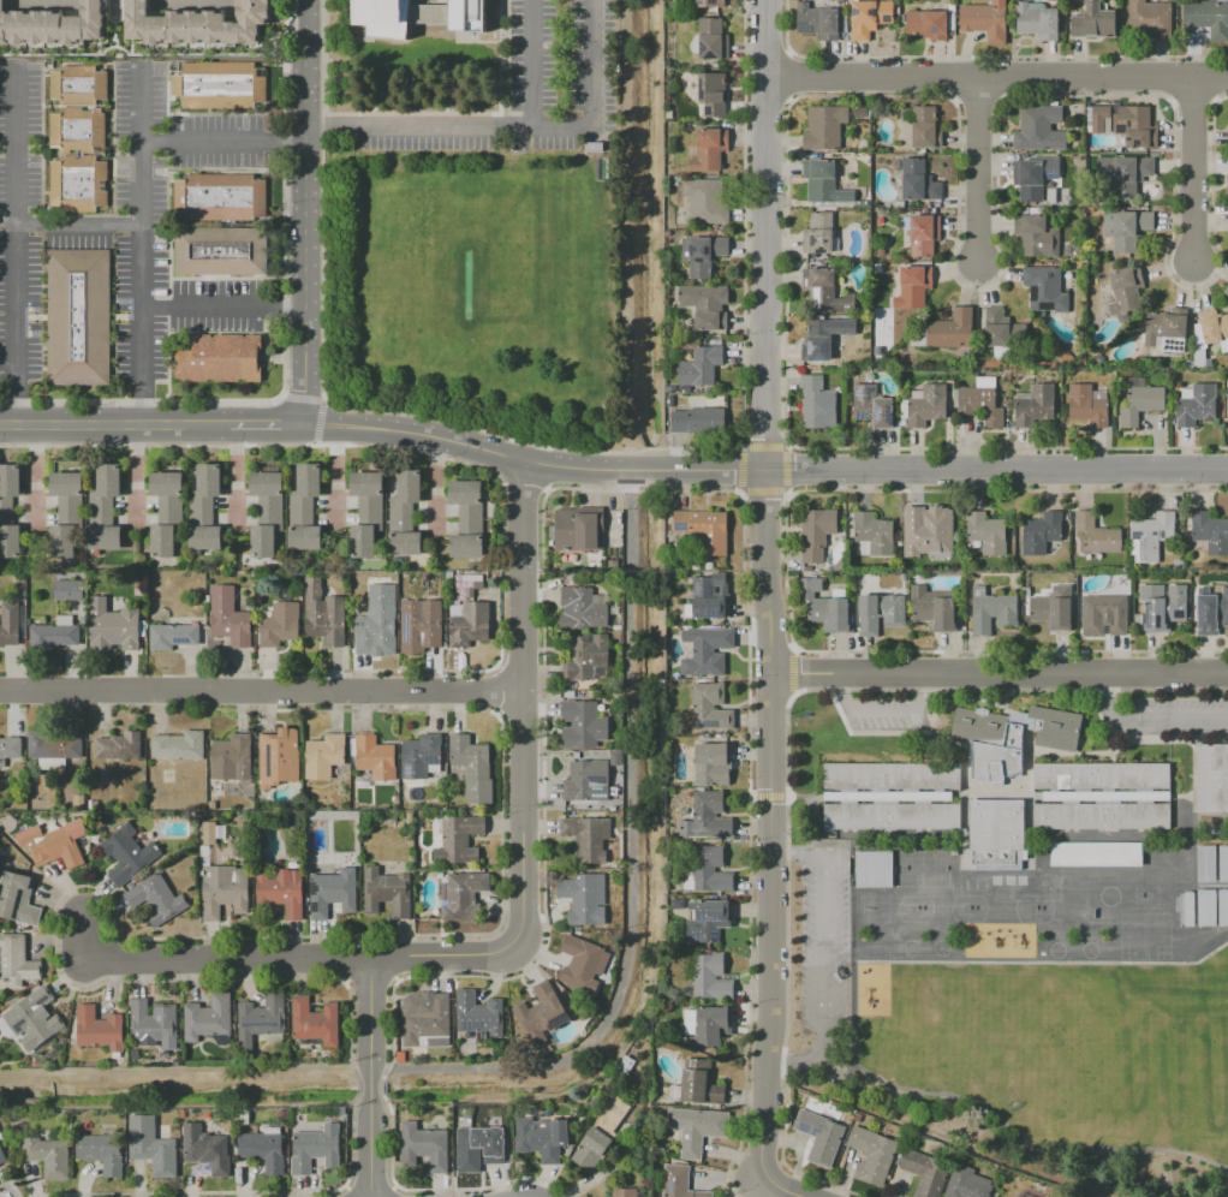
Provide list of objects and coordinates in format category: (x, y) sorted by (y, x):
building: (710, 4)
road: (193, 5)
road: (108, 12)
building: (417, 14)
building: (869, 17)
building: (1208, 17)
building: (1150, 18)
building: (985, 20)
building: (1037, 20)
building: (817, 22)
building: (1093, 22)
road: (114, 23)
building: (926, 24)
building: (199, 25)
building: (53, 26)
building: (709, 40)
road: (150, 54)
road: (532, 64)
road: (996, 81)
building: (219, 84)
building: (78, 85)
road: (406, 85)
road: (376, 90)
building: (711, 94)
parking lot: (520, 97)
road: (447, 103)
building: (860, 112)
building: (1096, 118)
building: (1135, 126)
road: (513, 127)
building: (824, 127)
building: (925, 127)
building: (77, 129)
building: (1039, 129)
building: (1227, 137)
road: (223, 142)
building: (598, 148)
building: (709, 149)
building: (1125, 173)
road: (1197, 173)
building: (1035, 175)
road: (980, 177)
building: (918, 180)
building: (823, 181)
building: (78, 183)
building: (1227, 190)
building: (219, 197)
building: (705, 201)
road: (305, 212)
road: (77, 226)
building: (1126, 228)
building: (922, 233)
building: (818, 234)
road: (764, 236)
building: (1036, 236)
road: (139, 246)
road: (16, 248)
building: (222, 251)
building: (1074, 252)
building: (702, 254)
building: (877, 268)
park: (475, 280)
building: (911, 287)
building: (1044, 288)
building: (824, 290)
building: (1125, 290)
park: (476, 293)
road: (222, 308)
building: (708, 309)
building: (78, 317)
building: (1215, 328)
building: (950, 329)
building: (1166, 329)
building: (1002, 332)
building: (817, 340)
building: (220, 358)
building: (1208, 363)
building: (701, 367)
building: (1135, 382)
building: (669, 388)
building: (684, 389)
road: (280, 395)
road: (302, 398)
road: (139, 400)
building: (668, 400)
building: (979, 400)
building: (817, 403)
building: (1087, 404)
building: (1140, 404)
building: (871, 405)
building: (924, 405)
building: (1035, 405)
building: (1196, 405)
road: (270, 410)
building: (698, 419)
road: (317, 422)
road: (113, 424)
road: (267, 424)
road: (419, 434)
road: (266, 437)
road: (526, 437)
road: (542, 443)
road: (256, 445)
road: (738, 446)
road: (788, 446)
road: (762, 447)
road: (1008, 448)
road: (542, 466)
road: (786, 469)
road: (740, 470)
road: (878, 470)
building: (10, 480)
building: (108, 480)
building: (209, 480)
building: (308, 480)
road: (523, 481)
building: (66, 483)
building: (165, 483)
building: (366, 483)
building: (267, 484)
building: (409, 486)
road: (546, 489)
road: (642, 490)
road: (1005, 490)
building: (465, 492)
road: (763, 493)
road: (738, 494)
building: (100, 510)
building: (199, 510)
building: (299, 510)
building: (6, 511)
building: (71, 511)
building: (169, 511)
building: (270, 511)
building: (371, 511)
building: (400, 516)
building: (471, 519)
building: (578, 529)
building: (704, 529)
building: (926, 530)
building: (817, 532)
building: (874, 532)
building: (986, 532)
building: (1041, 532)
building: (1154, 532)
building: (1209, 532)
building: (1096, 534)
building: (105, 537)
building: (204, 537)
building: (304, 537)
building: (10, 541)
building: (62, 541)
building: (162, 541)
building: (263, 541)
building: (363, 541)
building: (405, 543)
building: (466, 546)
building: (679, 548)
building: (696, 566)
building: (708, 566)
building: (478, 584)
building: (68, 590)
building: (1026, 591)
building: (708, 598)
building: (823, 607)
building: (583, 608)
building: (931, 609)
building: (991, 611)
building: (1105, 612)
building: (880, 613)
building: (1050, 613)
building: (1163, 613)
building: (1211, 613)
building: (323, 614)
building: (229, 618)
building: (469, 623)
building: (10, 624)
building: (279, 624)
building: (375, 625)
building: (419, 625)
building: (114, 626)
building: (54, 633)
building: (172, 636)
building: (705, 650)
building: (585, 656)
building: (435, 660)
road: (996, 677)
road: (366, 691)
road: (103, 692)
building: (568, 693)
building: (710, 707)
road: (882, 710)
road: (526, 713)
parking lot: (884, 715)
parking lot: (1179, 716)
road: (1149, 722)
building: (583, 725)
building: (1011, 737)
building: (119, 745)
building: (178, 745)
building: (10, 749)
building: (52, 749)
building: (323, 756)
building: (374, 756)
building: (421, 756)
building: (231, 757)
building: (279, 758)
building: (615, 758)
building: (711, 763)
building: (472, 768)
building: (1211, 778)
building: (585, 779)
building: (890, 796)
building: (1102, 796)
building: (707, 816)
road: (763, 824)
building: (208, 832)
building: (996, 834)
building: (588, 838)
building: (458, 839)
building: (55, 846)
building: (126, 854)
building: (1096, 854)
building: (1205, 863)
building: (1223, 863)
building: (874, 869)
park: (922, 869)
building: (708, 870)
building: (223, 891)
building: (281, 892)
building: (333, 892)
building: (387, 892)
building: (464, 894)
building: (18, 899)
building: (156, 899)
building: (583, 900)
building: (1206, 907)
building: (1223, 907)
park: (902, 909)
park: (942, 909)
park: (1001, 909)
park: (1048, 909)
building: (1188, 909)
building: (707, 921)
parking lot: (824, 943)
road: (825, 957)
road: (205, 959)
building: (16, 960)
road: (453, 961)
building: (583, 964)
building: (711, 977)
building: (478, 1013)
building: (541, 1013)
building: (32, 1018)
building: (208, 1018)
building: (260, 1019)
building: (315, 1020)
building: (153, 1023)
building: (427, 1023)
building: (708, 1025)
building: (99, 1029)
building: (625, 1064)
road: (375, 1079)
building: (697, 1083)
building: (697, 1128)
building: (601, 1133)
building: (819, 1136)
building: (542, 1137)
building: (481, 1145)
building: (151, 1147)
building: (424, 1147)
building: (205, 1149)
building: (263, 1149)
building: (316, 1149)
building: (657, 1150)
building: (101, 1151)
building: (872, 1155)
building: (2, 1156)
building: (48, 1156)
building: (925, 1173)
building: (679, 1181)
building: (966, 1184)
road: (783, 1187)
building: (624, 1192)

